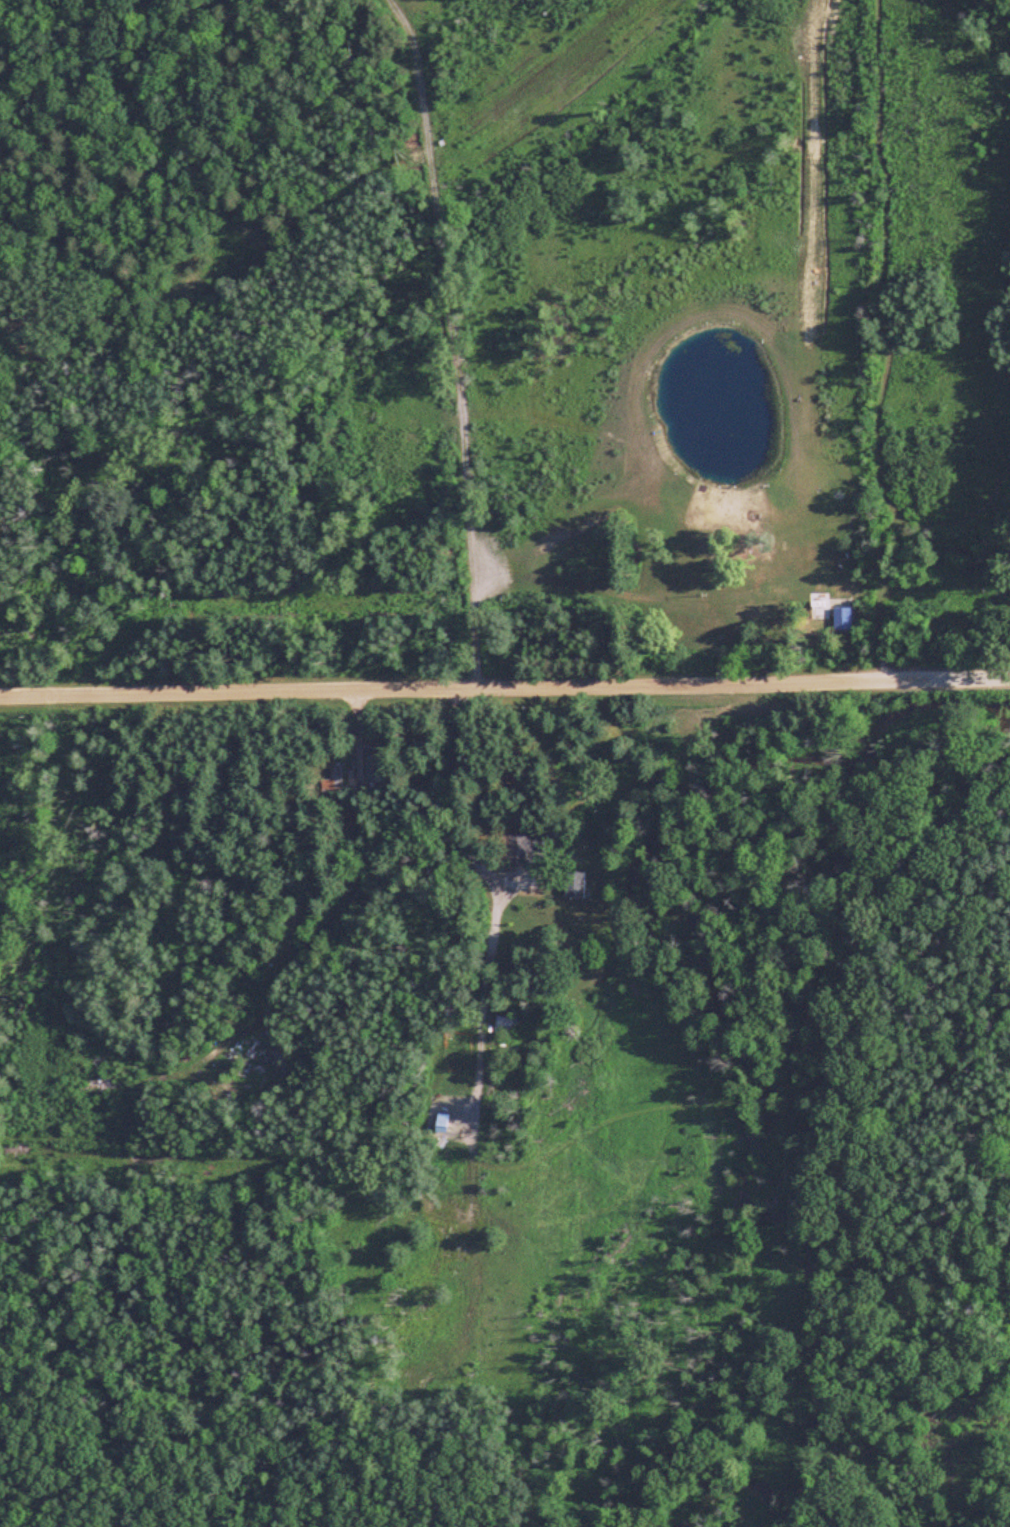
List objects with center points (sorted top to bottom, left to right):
road: (505, 686)
building: (376, 771)
building: (334, 775)
building: (521, 848)
building: (574, 885)
building: (337, 904)
building: (289, 940)
building: (505, 1026)
building: (255, 1067)

